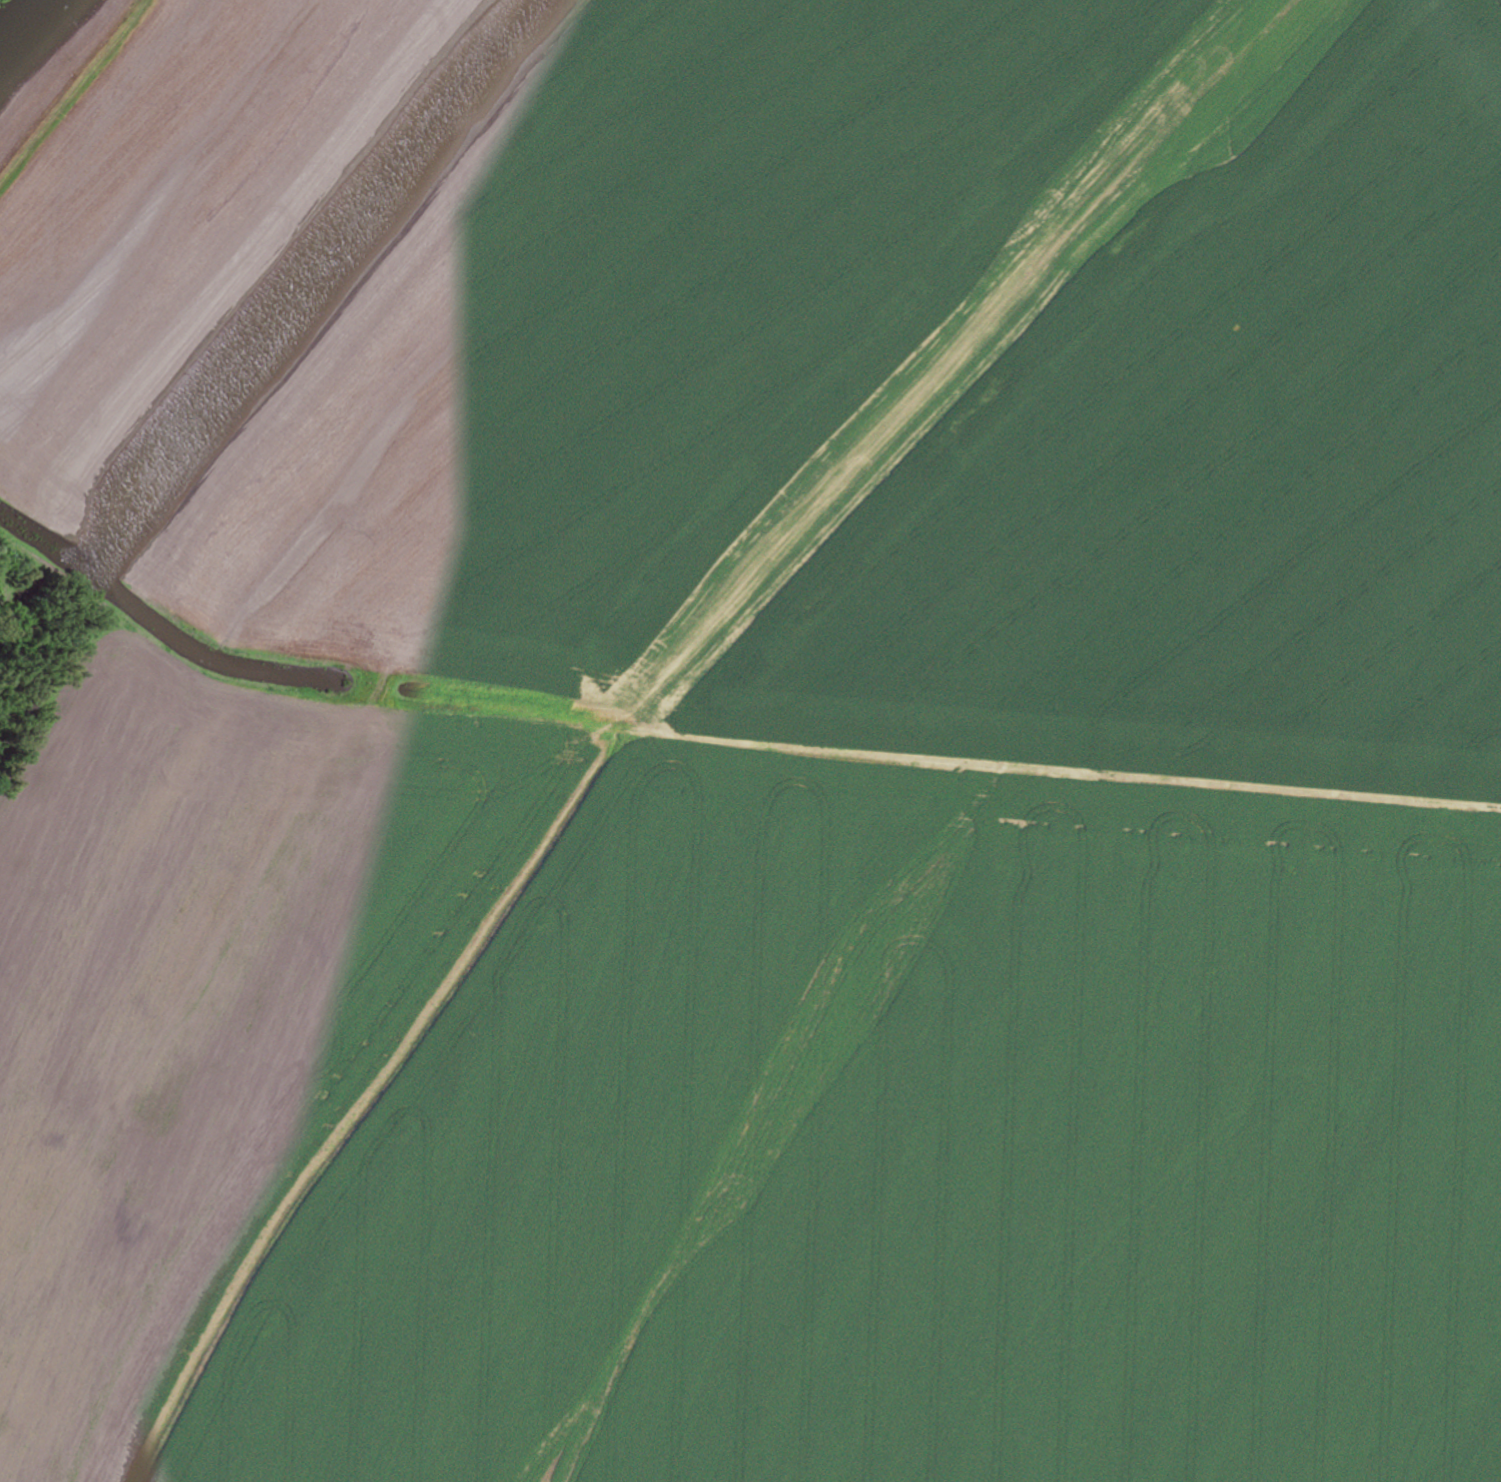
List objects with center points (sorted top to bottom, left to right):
road: (435, 618)

